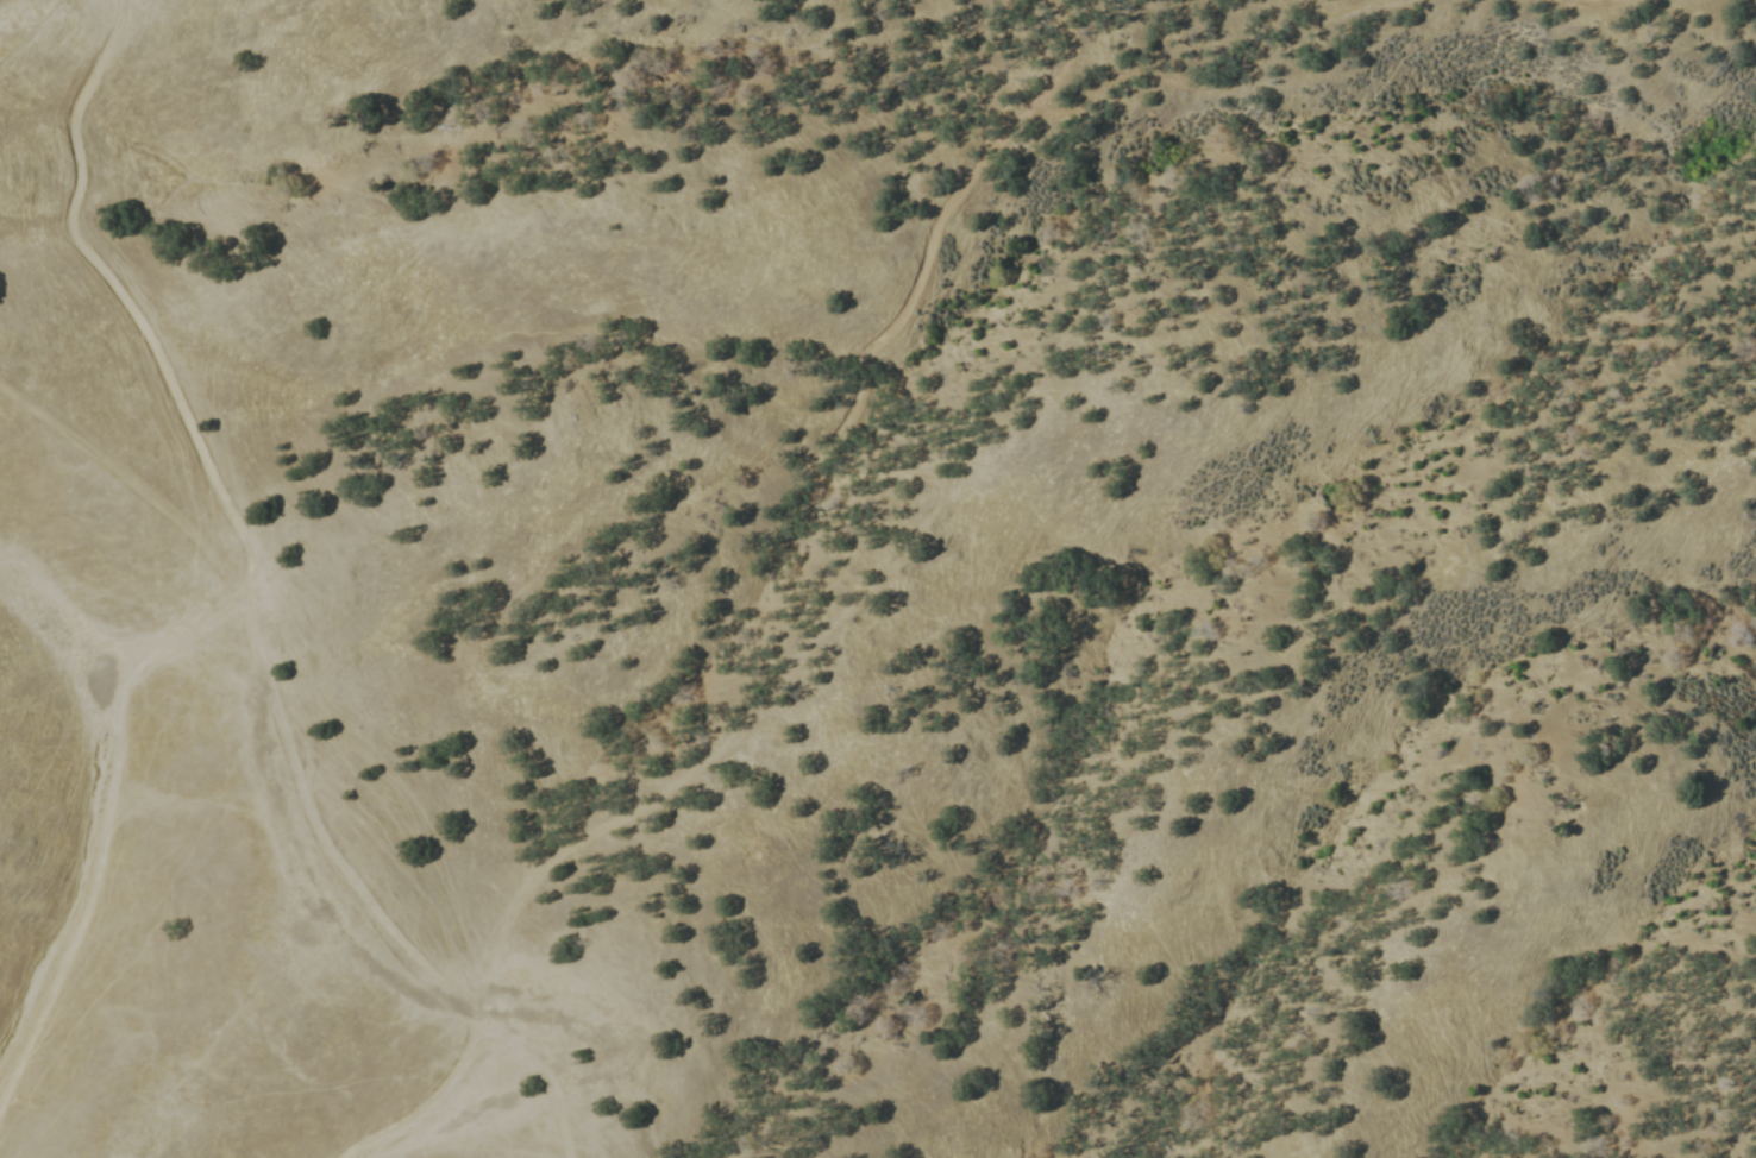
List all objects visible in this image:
road: (888, 470)
road: (127, 482)
road: (227, 508)
road: (106, 822)
road: (502, 918)
road: (535, 1070)
road: (425, 1096)

